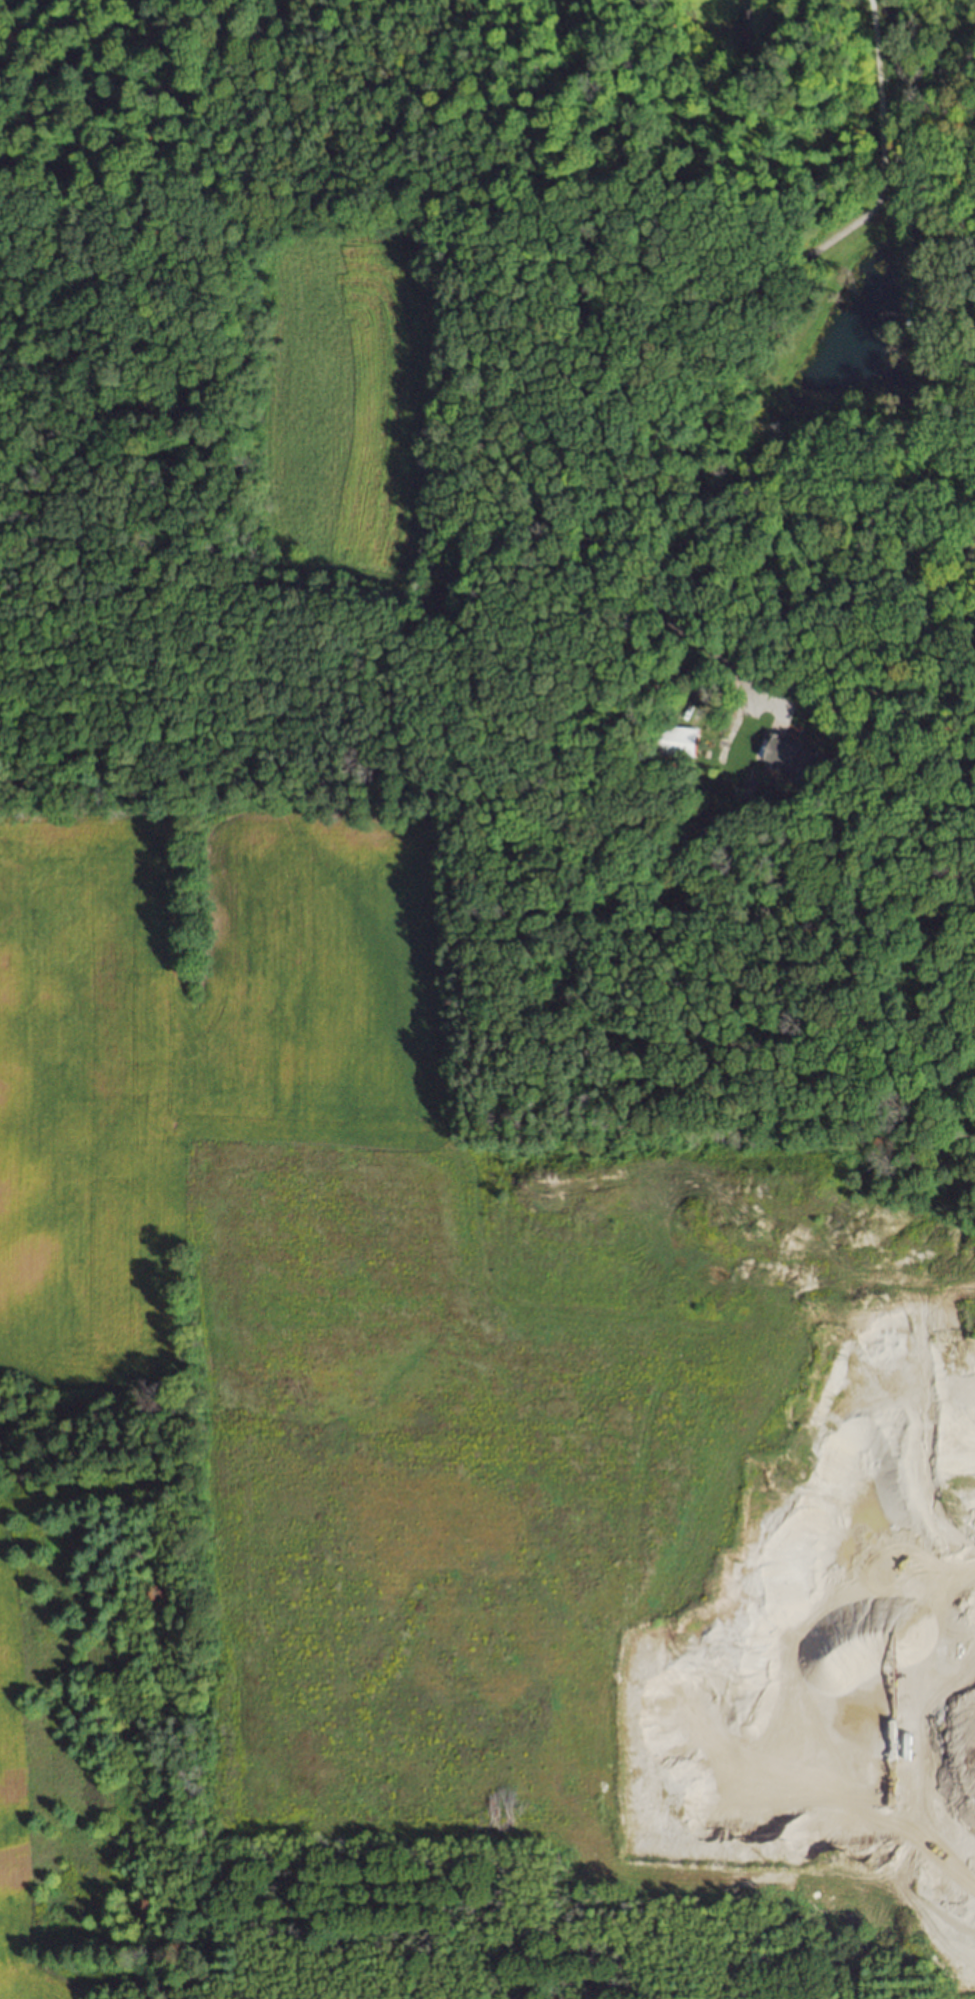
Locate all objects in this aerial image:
road: (652, 365)
building: (675, 741)
building: (780, 751)

